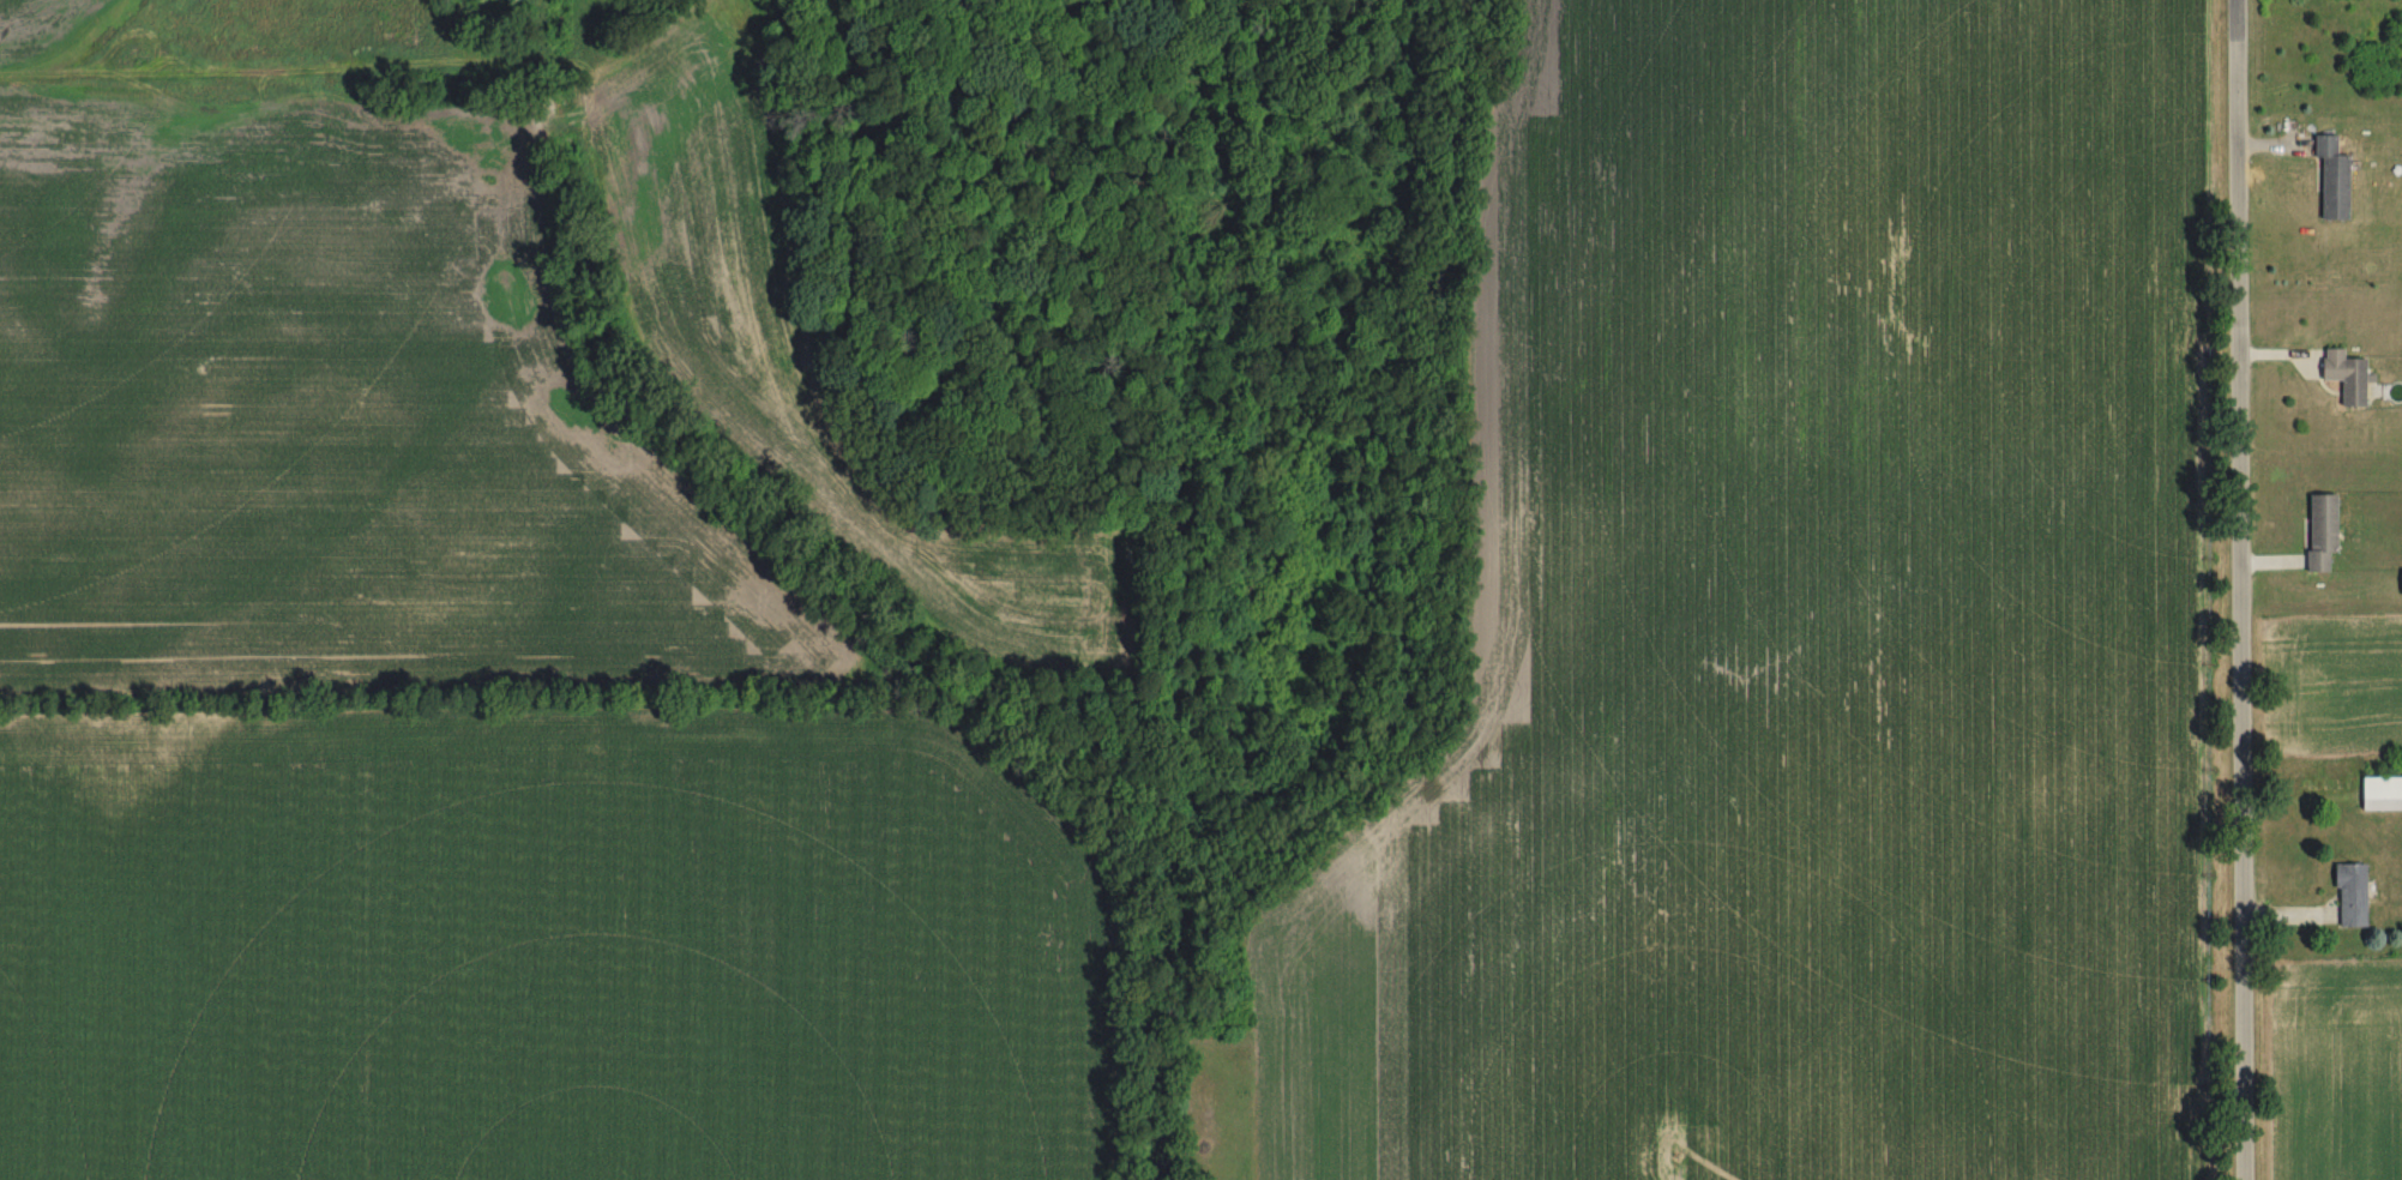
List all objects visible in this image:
building: (2329, 180)
building: (2342, 378)
building: (2318, 532)
building: (2400, 583)
road: (2245, 590)
building: (2379, 795)
building: (2348, 897)

